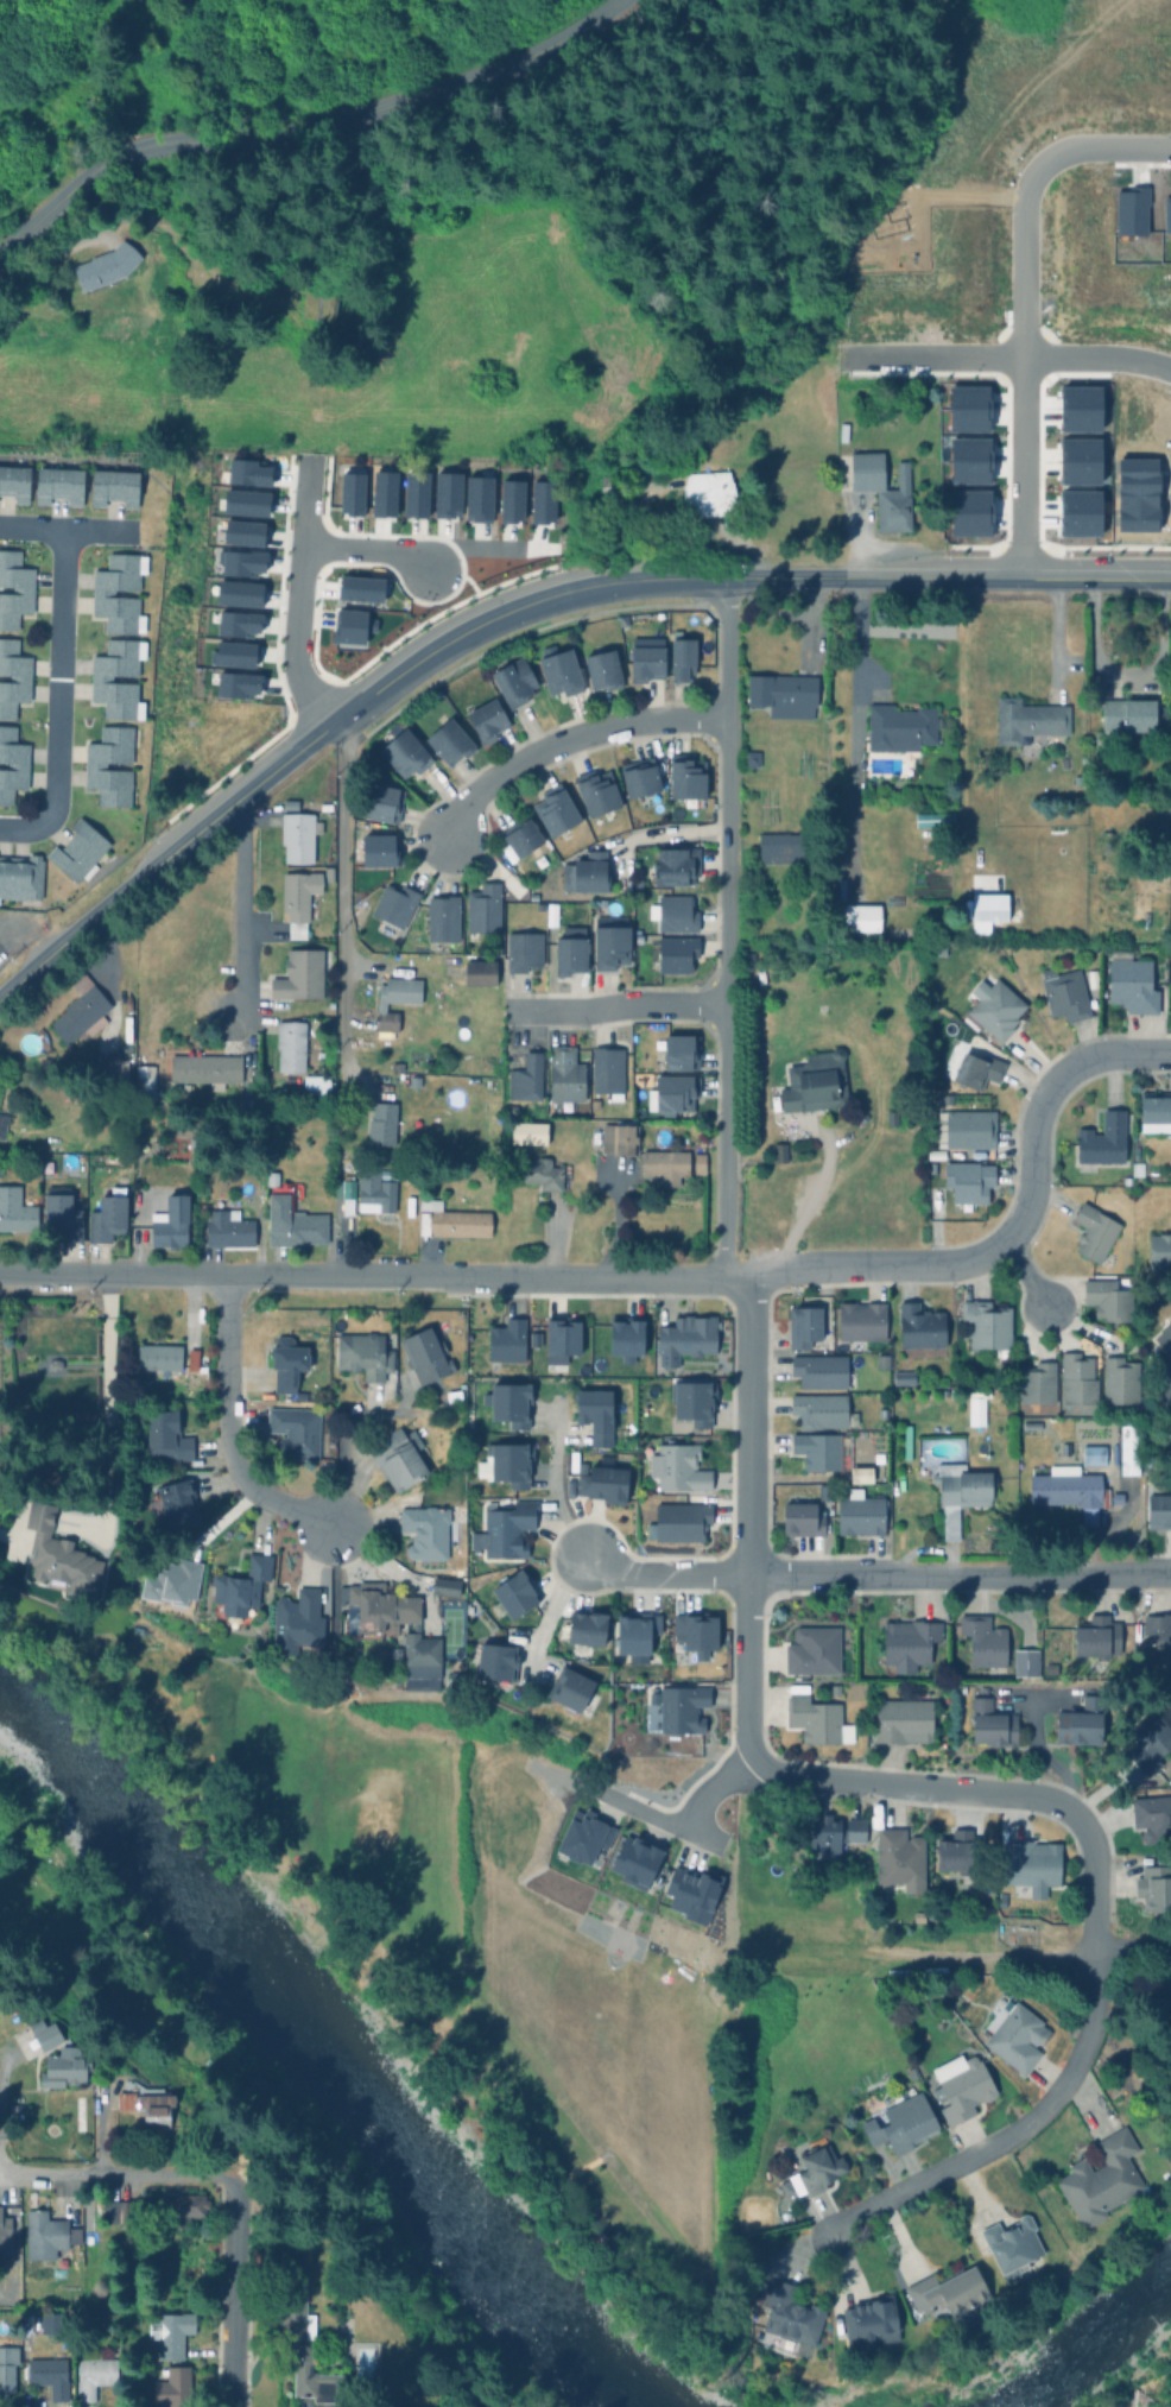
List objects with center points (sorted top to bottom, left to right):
road: (306, 128)
road: (1102, 146)
road: (947, 204)
building: (105, 265)
road: (1009, 356)
road: (1019, 369)
building: (246, 472)
building: (14, 481)
building: (58, 484)
building: (612, 485)
building: (114, 486)
building: (882, 488)
building: (350, 492)
building: (381, 492)
building: (708, 492)
building: (413, 493)
building: (445, 493)
building: (476, 498)
building: (509, 500)
building: (540, 500)
building: (245, 501)
road: (64, 526)
building: (242, 532)
road: (366, 542)
road: (468, 543)
building: (240, 562)
road: (950, 575)
building: (359, 587)
building: (13, 588)
building: (101, 592)
building: (238, 592)
road: (295, 595)
road: (513, 606)
building: (238, 623)
building: (349, 625)
building: (232, 652)
building: (682, 656)
building: (645, 662)
building: (603, 669)
building: (561, 672)
building: (12, 676)
building: (100, 677)
road: (1120, 677)
building: (514, 682)
building: (236, 683)
building: (784, 694)
road: (57, 699)
building: (1127, 714)
building: (1028, 719)
building: (487, 720)
building: (899, 727)
road: (854, 728)
road: (570, 739)
building: (450, 741)
building: (405, 752)
building: (751, 758)
building: (11, 764)
building: (93, 765)
building: (640, 777)
building: (685, 777)
building: (597, 791)
building: (380, 802)
building: (556, 810)
building: (935, 820)
road: (657, 833)
building: (297, 836)
building: (521, 836)
building: (379, 847)
building: (779, 847)
building: (77, 851)
road: (162, 857)
building: (676, 866)
building: (329, 872)
building: (587, 872)
building: (20, 873)
road: (342, 877)
building: (297, 898)
building: (393, 902)
road: (242, 906)
building: (483, 906)
building: (986, 910)
building: (673, 911)
building: (442, 916)
building: (861, 917)
road: (727, 927)
building: (899, 931)
building: (610, 940)
building: (523, 949)
building: (676, 950)
building: (569, 953)
building: (746, 960)
building: (479, 971)
building: (298, 973)
building: (1131, 981)
building: (1065, 992)
building: (394, 998)
road: (615, 1005)
building: (80, 1007)
building: (998, 1007)
building: (290, 1043)
building: (678, 1049)
building: (50, 1064)
building: (107, 1064)
building: (395, 1064)
building: (204, 1068)
building: (977, 1068)
building: (607, 1069)
building: (525, 1076)
building: (564, 1076)
building: (815, 1080)
building: (144, 1081)
building: (490, 1082)
building: (315, 1086)
building: (670, 1091)
building: (248, 1104)
building: (1154, 1110)
building: (891, 1116)
building: (2, 1120)
building: (381, 1122)
building: (966, 1127)
building: (528, 1131)
building: (606, 1137)
building: (625, 1137)
building: (1103, 1138)
building: (779, 1150)
building: (954, 1152)
building: (697, 1161)
building: (665, 1163)
building: (540, 1174)
building: (271, 1176)
building: (968, 1179)
building: (344, 1189)
building: (375, 1189)
building: (676, 1195)
building: (14, 1209)
building: (59, 1213)
building: (106, 1217)
building: (292, 1218)
building: (171, 1219)
building: (451, 1219)
building: (226, 1226)
building: (1094, 1230)
building: (1159, 1249)
road: (1024, 1277)
road: (656, 1281)
building: (1108, 1297)
building: (861, 1320)
building: (986, 1322)
building: (804, 1323)
building: (920, 1329)
building: (562, 1334)
building: (626, 1334)
building: (533, 1337)
building: (685, 1337)
building: (1165, 1338)
building: (506, 1340)
building: (426, 1351)
building: (363, 1353)
building: (158, 1356)
building: (192, 1359)
building: (881, 1360)
building: (286, 1362)
building: (53, 1363)
building: (821, 1369)
building: (903, 1376)
building: (1077, 1377)
building: (1120, 1378)
building: (1038, 1382)
building: (1165, 1385)
building: (452, 1394)
building: (692, 1400)
building: (507, 1403)
building: (976, 1405)
building: (819, 1408)
building: (594, 1415)
building: (1030, 1423)
road: (228, 1429)
building: (295, 1429)
building: (164, 1436)
building: (906, 1440)
building: (1128, 1447)
building: (817, 1448)
building: (1064, 1448)
building: (1094, 1453)
building: (876, 1454)
building: (399, 1457)
building: (509, 1461)
building: (677, 1466)
building: (861, 1472)
building: (603, 1482)
building: (1068, 1489)
building: (824, 1490)
building: (961, 1491)
road: (556, 1495)
building: (697, 1497)
building: (1116, 1497)
building: (172, 1502)
building: (1158, 1510)
building: (859, 1512)
building: (802, 1518)
building: (678, 1520)
road: (748, 1522)
building: (505, 1528)
building: (425, 1530)
building: (56, 1552)
road: (960, 1573)
road: (663, 1574)
building: (171, 1585)
building: (444, 1585)
building: (238, 1588)
building: (514, 1592)
road: (552, 1601)
building: (296, 1621)
building: (390, 1622)
building: (588, 1625)
building: (635, 1630)
building: (696, 1630)
building: (1095, 1635)
building: (1159, 1635)
building: (983, 1640)
building: (907, 1643)
building: (812, 1649)
building: (496, 1660)
building: (1025, 1661)
building: (1050, 1667)
building: (455, 1680)
building: (570, 1688)
building: (834, 1688)
building: (652, 1697)
building: (681, 1708)
building: (814, 1718)
building: (903, 1720)
building: (1082, 1721)
building: (992, 1723)
building: (1148, 1737)
road: (989, 1792)
building: (1152, 1817)
road: (685, 1826)
building: (786, 1832)
building: (834, 1833)
building: (583, 1837)
building: (957, 1850)
building: (899, 1857)
building: (634, 1862)
building: (1033, 1865)
building: (1154, 1888)
building: (690, 1891)
road: (1133, 1947)
building: (1014, 2033)
building: (46, 2036)
river: (318, 2055)
road: (5, 2066)
building: (64, 2070)
building: (962, 2086)
building: (146, 2106)
building: (900, 2122)
road: (1013, 2131)
building: (817, 2168)
road: (116, 2177)
building: (1101, 2178)
building: (785, 2186)
building: (182, 2206)
building: (115, 2210)
building: (46, 2234)
building: (4, 2235)
building: (1012, 2244)
building: (137, 2261)
building: (948, 2291)
road: (232, 2292)
building: (784, 2318)
building: (50, 2321)
building: (872, 2323)
building: (169, 2332)
river: (1091, 2340)
building: (298, 2342)
building: (7, 2365)
building: (48, 2374)
building: (93, 2375)
building: (171, 2387)

